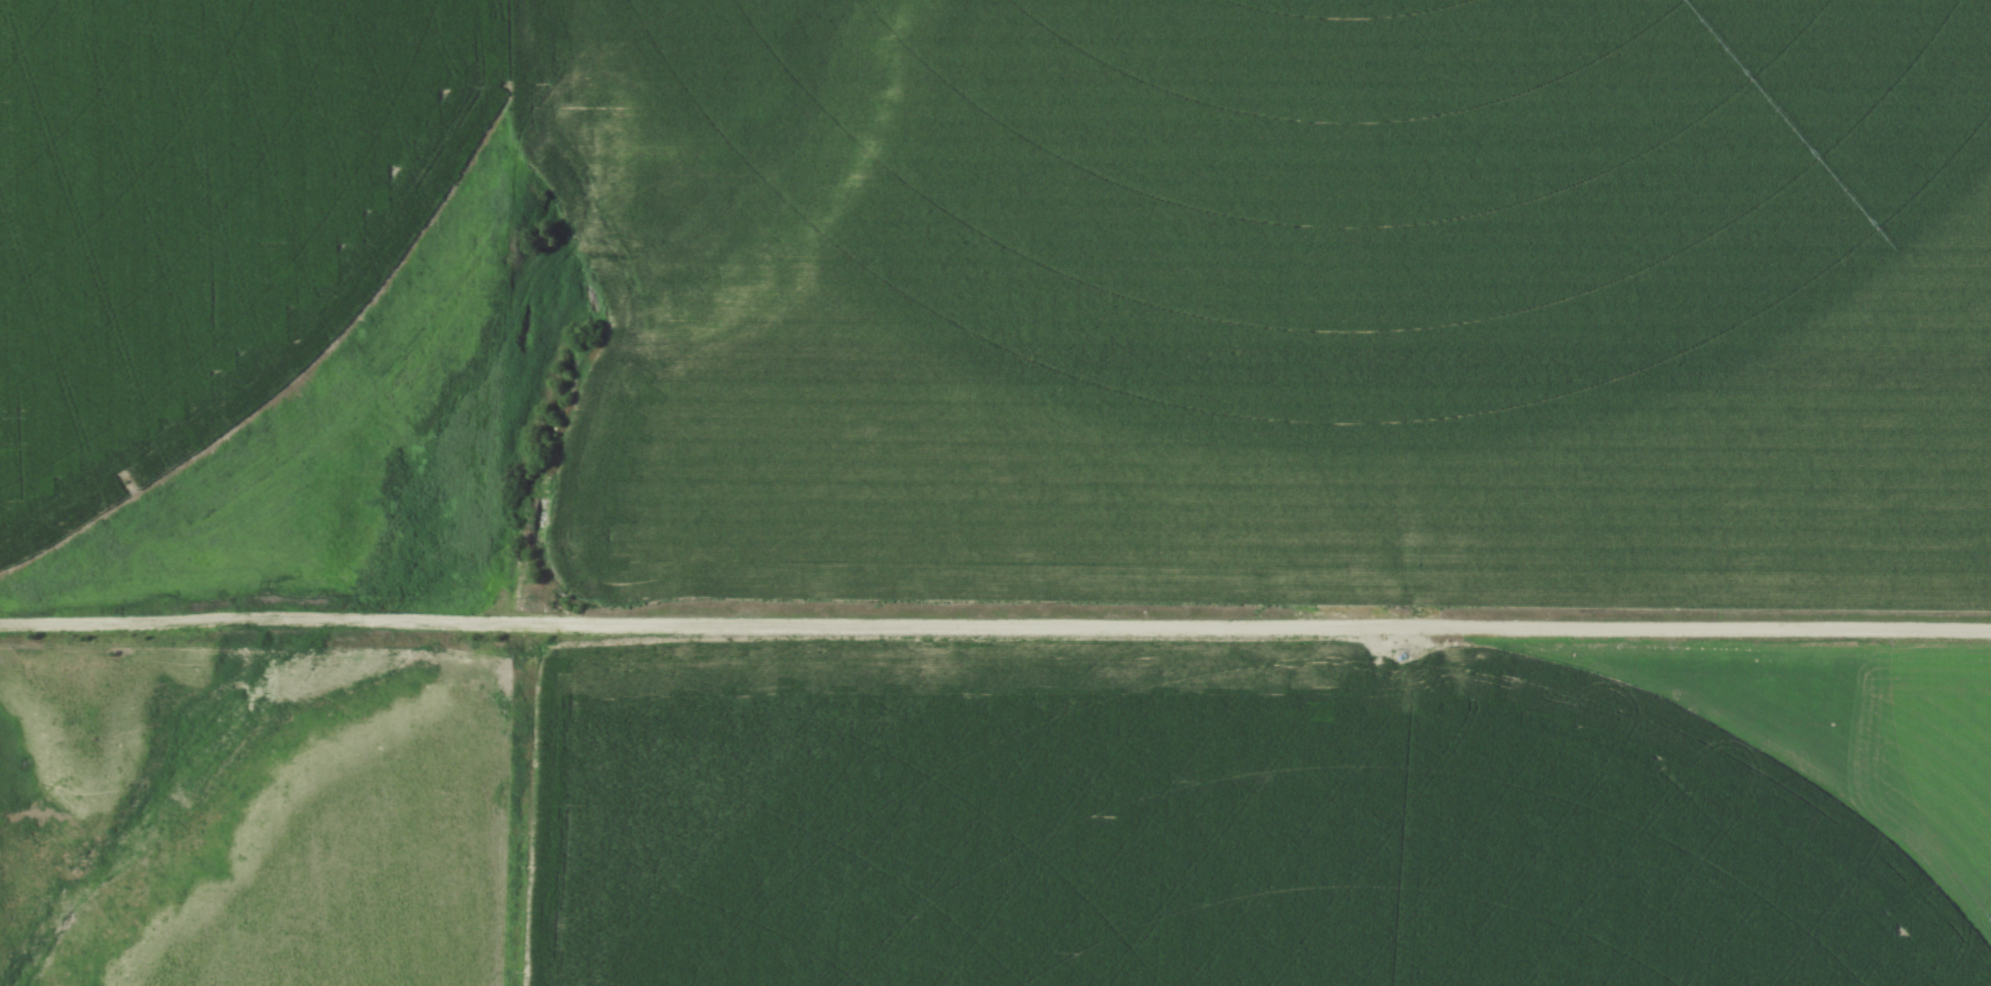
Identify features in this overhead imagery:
road: (995, 628)

